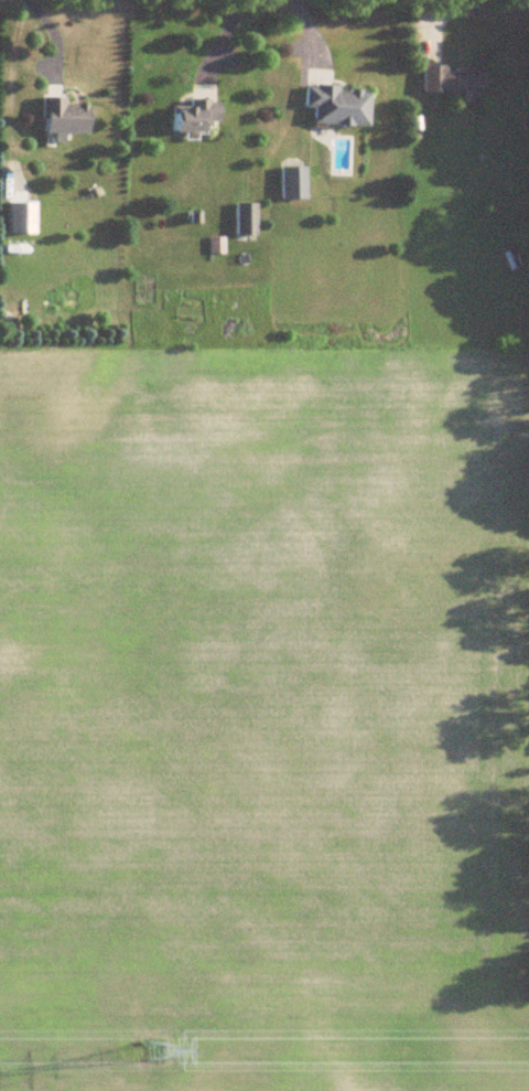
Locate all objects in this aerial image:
road: (51, 32)
road: (311, 35)
road: (219, 41)
building: (452, 81)
building: (337, 107)
building: (194, 117)
building: (62, 118)
building: (293, 183)
building: (246, 222)
power tower: (156, 1050)

